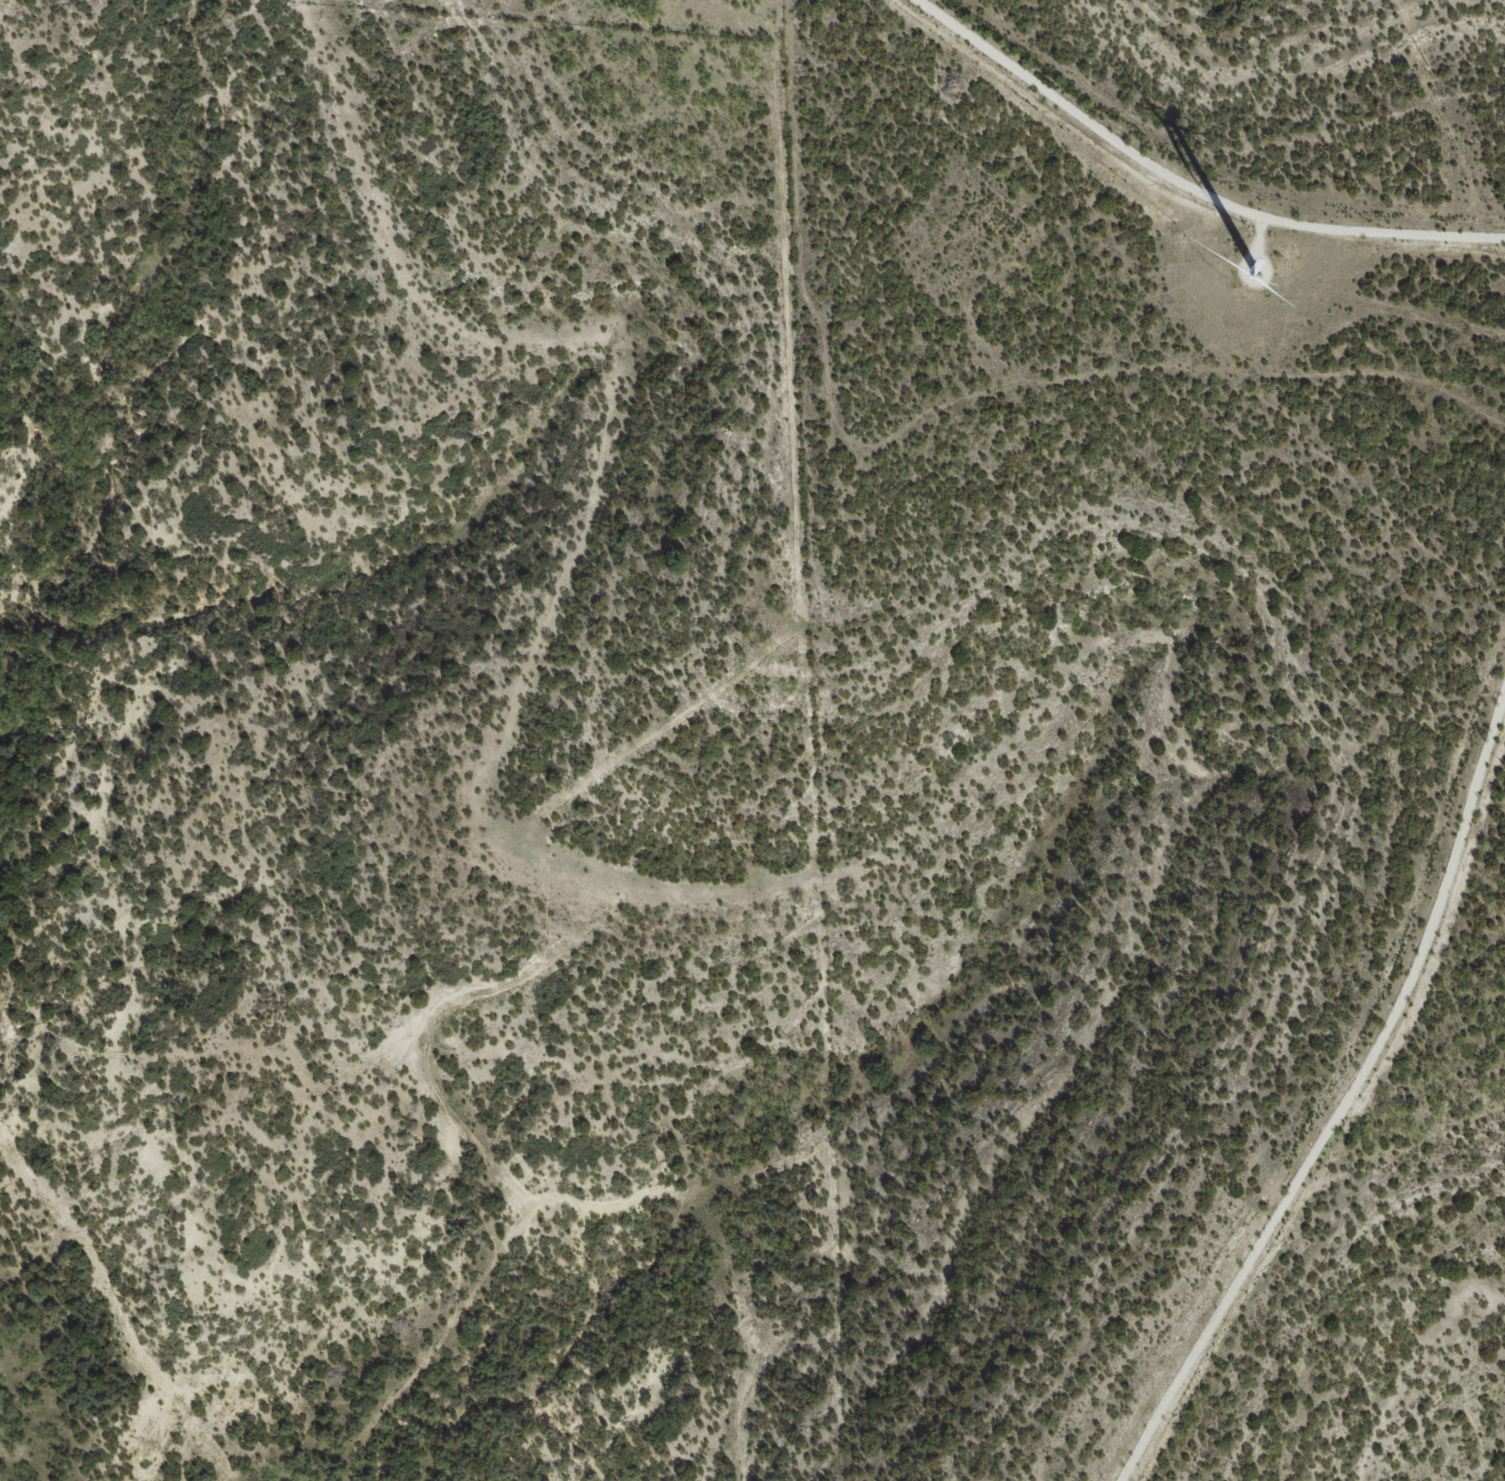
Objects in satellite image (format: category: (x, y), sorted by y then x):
power tower: (1427, 66)
wind turbine: (1251, 268)

